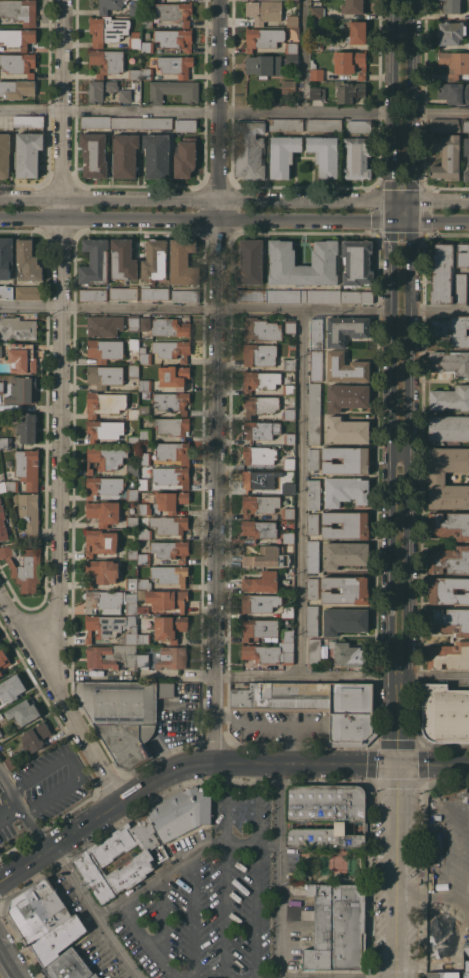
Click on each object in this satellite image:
building: (109, 5)
building: (354, 6)
building: (452, 6)
building: (135, 7)
building: (264, 10)
building: (20, 11)
building: (317, 11)
building: (174, 12)
building: (292, 20)
building: (148, 21)
building: (107, 30)
building: (357, 32)
building: (451, 32)
building: (147, 35)
building: (18, 37)
building: (174, 38)
building: (263, 38)
building: (135, 40)
building: (317, 43)
building: (147, 46)
building: (292, 47)
road: (305, 58)
building: (292, 60)
building: (107, 61)
building: (351, 62)
building: (18, 63)
building: (454, 63)
building: (175, 65)
building: (264, 65)
building: (316, 72)
building: (135, 73)
building: (147, 73)
building: (288, 87)
building: (16, 88)
building: (101, 89)
building: (173, 90)
building: (349, 91)
building: (317, 92)
building: (454, 92)
building: (125, 94)
road: (196, 113)
road: (441, 116)
building: (29, 121)
building: (96, 121)
building: (127, 122)
building: (157, 122)
building: (185, 124)
building: (286, 124)
building: (324, 124)
building: (359, 125)
building: (446, 125)
building: (466, 126)
building: (250, 149)
building: (28, 153)
building: (4, 154)
building: (94, 154)
building: (125, 154)
building: (283, 154)
building: (157, 155)
building: (325, 155)
building: (185, 157)
building: (358, 157)
building: (447, 157)
building: (468, 162)
road: (234, 197)
traffic signals: (393, 201)
traffic signals: (413, 201)
road: (234, 221)
traffic signals: (393, 223)
traffic signals: (412, 224)
building: (463, 253)
building: (6, 256)
building: (123, 259)
building: (155, 259)
building: (324, 259)
building: (28, 260)
building: (95, 261)
building: (251, 261)
building: (183, 262)
building: (357, 262)
building: (442, 273)
building: (460, 288)
building: (6, 291)
building: (29, 291)
building: (124, 292)
building: (155, 292)
building: (93, 294)
building: (185, 295)
building: (252, 295)
building: (304, 295)
building: (357, 296)
road: (196, 308)
road: (440, 310)
building: (134, 322)
building: (145, 322)
building: (104, 324)
building: (170, 326)
building: (290, 326)
building: (17, 328)
building: (261, 328)
building: (346, 329)
building: (452, 329)
building: (316, 333)
road: (58, 338)
building: (134, 344)
building: (0, 349)
building: (105, 349)
building: (172, 349)
building: (260, 354)
building: (144, 355)
building: (22, 356)
building: (450, 362)
building: (290, 364)
building: (316, 365)
building: (346, 367)
building: (133, 371)
building: (104, 375)
building: (174, 375)
road: (218, 380)
building: (260, 380)
road: (391, 381)
road: (411, 382)
building: (145, 384)
building: (1, 386)
building: (289, 388)
building: (21, 389)
building: (146, 394)
building: (347, 396)
building: (450, 397)
building: (314, 398)
building: (171, 400)
building: (111, 404)
building: (260, 404)
building: (144, 409)
building: (289, 413)
building: (173, 425)
building: (27, 427)
building: (449, 427)
building: (104, 429)
building: (261, 429)
building: (314, 429)
building: (347, 429)
building: (145, 433)
building: (289, 438)
building: (132, 439)
building: (5, 441)
building: (0, 445)
building: (173, 451)
building: (259, 454)
road: (400, 456)
building: (105, 457)
building: (144, 458)
building: (313, 458)
building: (346, 459)
building: (289, 462)
building: (28, 467)
building: (132, 469)
building: (171, 475)
building: (437, 477)
building: (261, 478)
building: (143, 483)
building: (12, 485)
building: (3, 486)
building: (103, 486)
building: (288, 487)
building: (346, 490)
building: (132, 493)
road: (301, 493)
building: (314, 493)
building: (171, 500)
building: (260, 503)
building: (144, 508)
building: (104, 511)
building: (288, 512)
building: (29, 513)
building: (131, 521)
building: (3, 523)
building: (313, 523)
building: (169, 524)
building: (346, 524)
building: (449, 524)
building: (259, 528)
building: (144, 533)
building: (288, 536)
building: (100, 541)
building: (171, 549)
building: (131, 551)
building: (345, 553)
building: (313, 556)
building: (267, 557)
building: (144, 558)
building: (450, 559)
building: (24, 567)
building: (109, 573)
building: (170, 574)
building: (261, 581)
building: (144, 583)
building: (89, 584)
building: (312, 587)
building: (346, 589)
building: (448, 589)
building: (141, 594)
building: (167, 599)
building: (110, 601)
building: (260, 602)
building: (143, 608)
building: (287, 611)
building: (312, 620)
building: (345, 620)
building: (449, 620)
building: (107, 625)
building: (170, 627)
building: (259, 627)
building: (287, 635)
building: (129, 636)
building: (144, 638)
building: (314, 650)
building: (270, 653)
building: (349, 654)
building: (111, 655)
building: (449, 655)
building: (163, 657)
building: (3, 659)
building: (1, 672)
building: (0, 674)
road: (219, 677)
road: (438, 680)
building: (11, 688)
building: (167, 689)
building: (279, 694)
road: (60, 695)
road: (51, 702)
building: (350, 711)
building: (23, 712)
building: (444, 712)
building: (1, 716)
building: (120, 717)
road: (415, 731)
building: (0, 734)
building: (33, 738)
road: (301, 750)
road: (217, 761)
building: (13, 763)
road: (72, 767)
road: (138, 774)
road: (174, 790)
road: (225, 799)
road: (4, 803)
road: (257, 803)
building: (435, 809)
building: (181, 812)
building: (324, 817)
road: (52, 831)
road: (250, 844)
building: (93, 858)
road: (426, 858)
building: (338, 863)
road: (438, 863)
road: (278, 870)
road: (395, 870)
road: (69, 875)
road: (159, 875)
building: (295, 877)
road: (369, 884)
road: (224, 905)
building: (35, 910)
road: (256, 911)
road: (158, 916)
road: (193, 916)
building: (336, 929)
road: (16, 939)
building: (55, 940)
road: (147, 941)
building: (66, 966)
road: (6, 967)
road: (213, 972)
building: (440, 975)
building: (93, 976)

